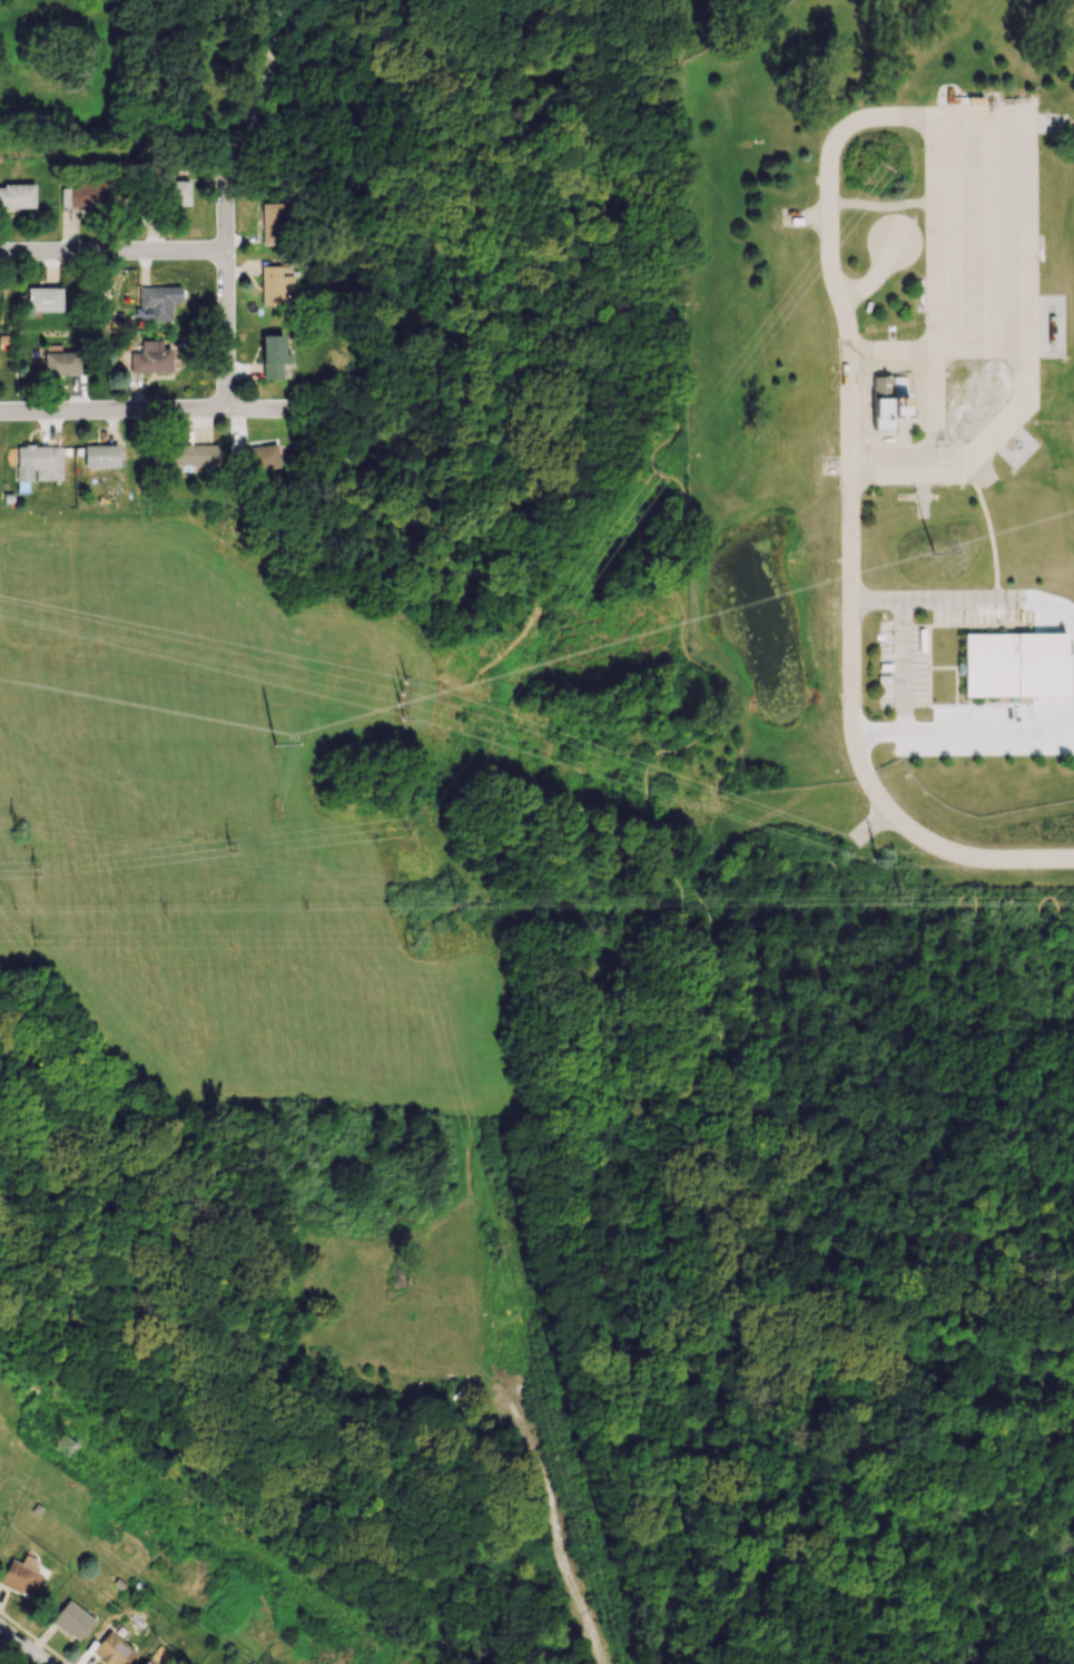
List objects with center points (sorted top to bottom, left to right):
road: (897, 116)
power tower: (885, 161)
building: (178, 193)
building: (17, 195)
building: (83, 195)
road: (227, 197)
building: (273, 224)
road: (112, 255)
road: (871, 277)
building: (274, 285)
building: (43, 298)
building: (156, 302)
building: (272, 355)
building: (150, 358)
building: (61, 363)
building: (885, 403)
road: (165, 411)
building: (193, 454)
building: (102, 456)
building: (263, 457)
building: (38, 461)
power tower: (663, 469)
power tower: (934, 555)
road: (538, 595)
road: (991, 600)
road: (539, 603)
road: (853, 623)
road: (500, 652)
building: (1016, 665)
road: (900, 666)
power tower: (404, 685)
road: (987, 728)
power tower: (274, 745)
power tower: (411, 820)
power tower: (27, 823)
road: (954, 853)
power tower: (875, 863)
power tower: (39, 869)
power tower: (457, 898)
power tower: (900, 898)
road: (998, 904)
power tower: (40, 940)
power tower: (416, 947)
road: (1003, 961)
road: (915, 1037)
road: (691, 1056)
power tower: (504, 1243)
road: (772, 1257)
road: (905, 1263)
road: (965, 1313)
road: (881, 1389)
power tower: (73, 1449)
road: (967, 1455)
road: (953, 1566)
power tower: (593, 1573)
building: (20, 1575)
road: (984, 1582)
road: (883, 1618)
building: (71, 1619)
road: (761, 1632)
road: (593, 1636)
road: (21, 1648)
building: (112, 1650)
road: (1071, 1654)
building: (148, 1662)

